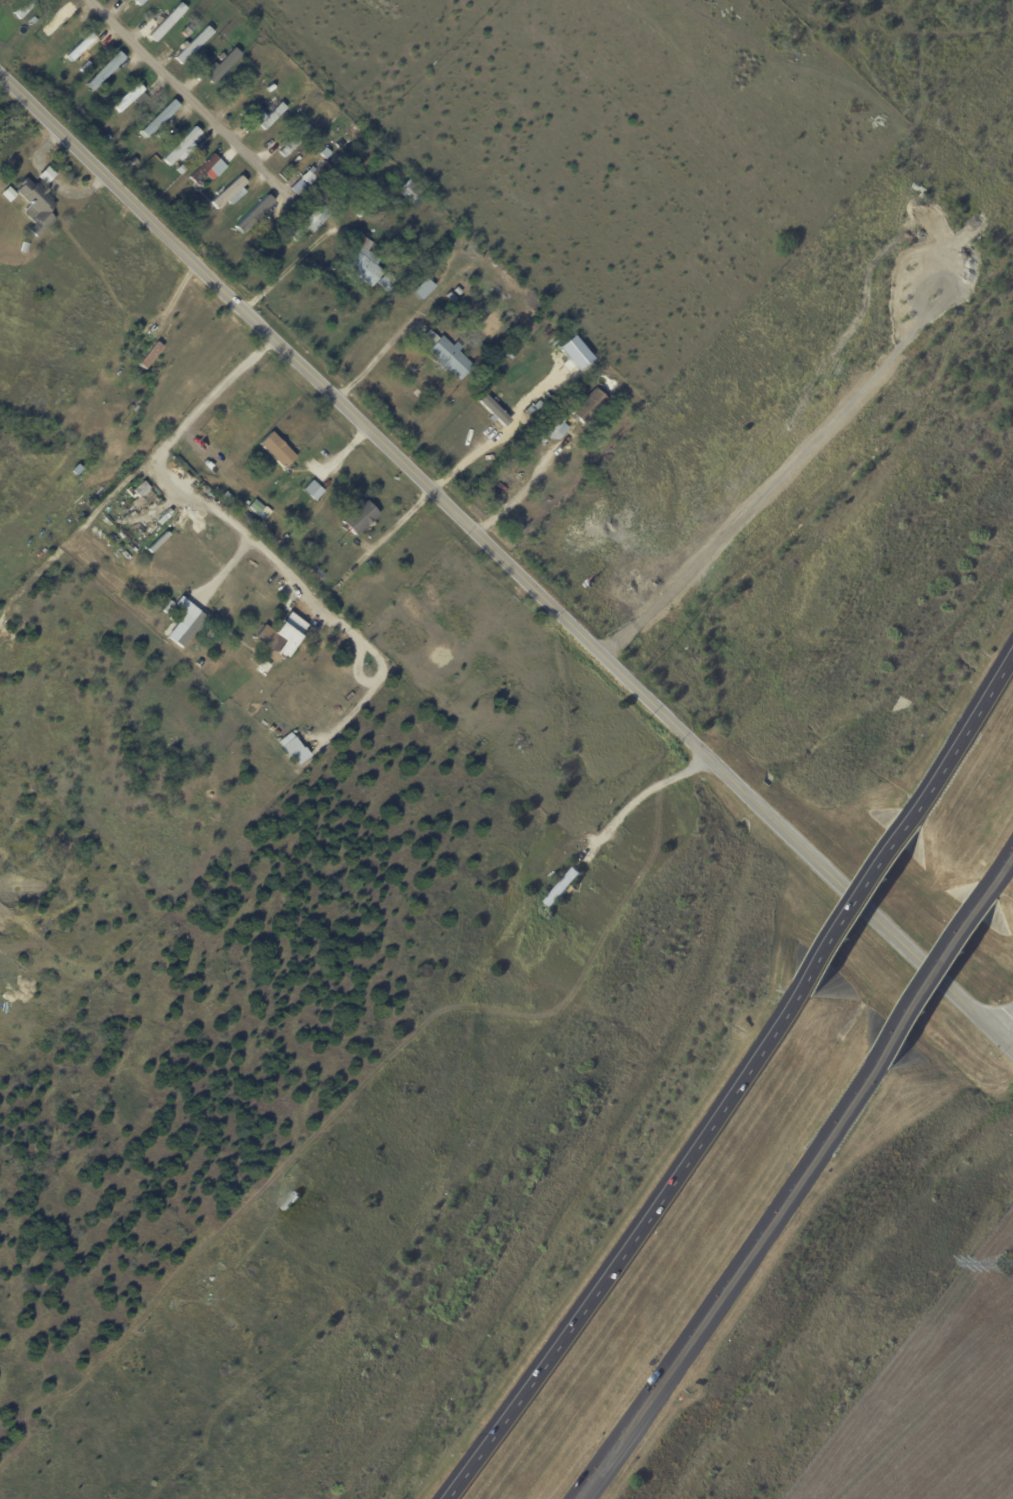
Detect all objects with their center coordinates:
building: (135, 7)
building: (24, 8)
building: (170, 21)
building: (56, 22)
building: (187, 32)
building: (194, 44)
building: (81, 45)
building: (225, 66)
building: (106, 71)
building: (246, 92)
road: (186, 96)
building: (133, 98)
building: (277, 102)
building: (94, 112)
building: (271, 118)
building: (159, 122)
building: (303, 123)
building: (347, 124)
building: (109, 137)
building: (296, 140)
building: (182, 146)
building: (135, 161)
building: (210, 169)
building: (316, 172)
building: (49, 175)
building: (227, 191)
building: (415, 193)
building: (11, 194)
building: (236, 195)
building: (38, 205)
building: (362, 213)
building: (255, 214)
building: (314, 221)
building: (275, 227)
building: (27, 247)
building: (363, 263)
building: (389, 282)
building: (426, 289)
building: (460, 291)
building: (453, 296)
building: (429, 337)
building: (481, 337)
building: (500, 345)
building: (151, 355)
building: (453, 357)
road: (373, 362)
building: (494, 384)
building: (511, 384)
building: (591, 407)
building: (493, 409)
building: (528, 415)
building: (557, 427)
building: (280, 450)
building: (509, 482)
building: (110, 485)
road: (525, 486)
building: (140, 488)
building: (313, 488)
building: (268, 511)
building: (362, 518)
road: (242, 533)
road: (387, 535)
building: (311, 546)
road: (506, 561)
building: (316, 575)
building: (185, 622)
building: (272, 639)
building: (324, 661)
road: (966, 732)
building: (294, 748)
road: (639, 796)
road: (1001, 871)
building: (565, 888)
road: (860, 904)
building: (570, 930)
road: (933, 979)
road: (1009, 1032)
road: (628, 1251)
power tower: (1002, 1267)
road: (725, 1283)

